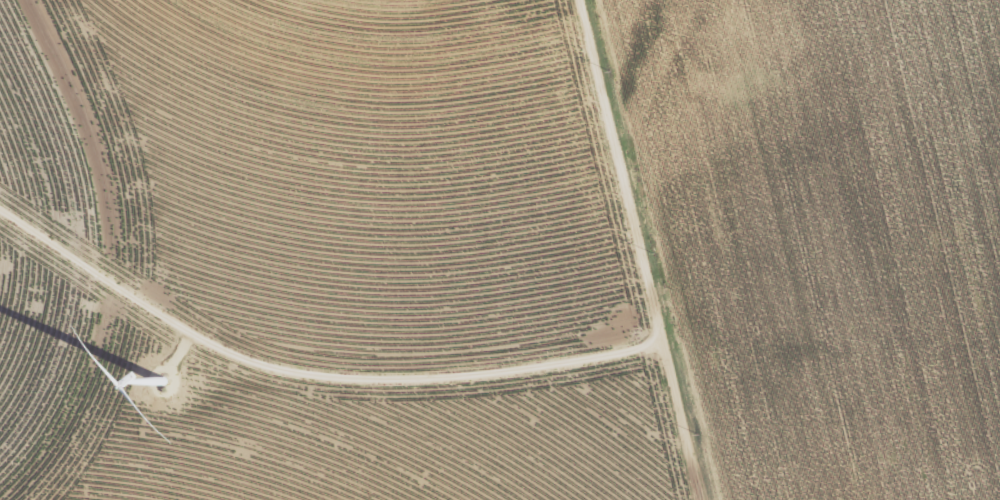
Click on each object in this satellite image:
road: (644, 250)
road: (312, 375)
wind turbine: (162, 379)

